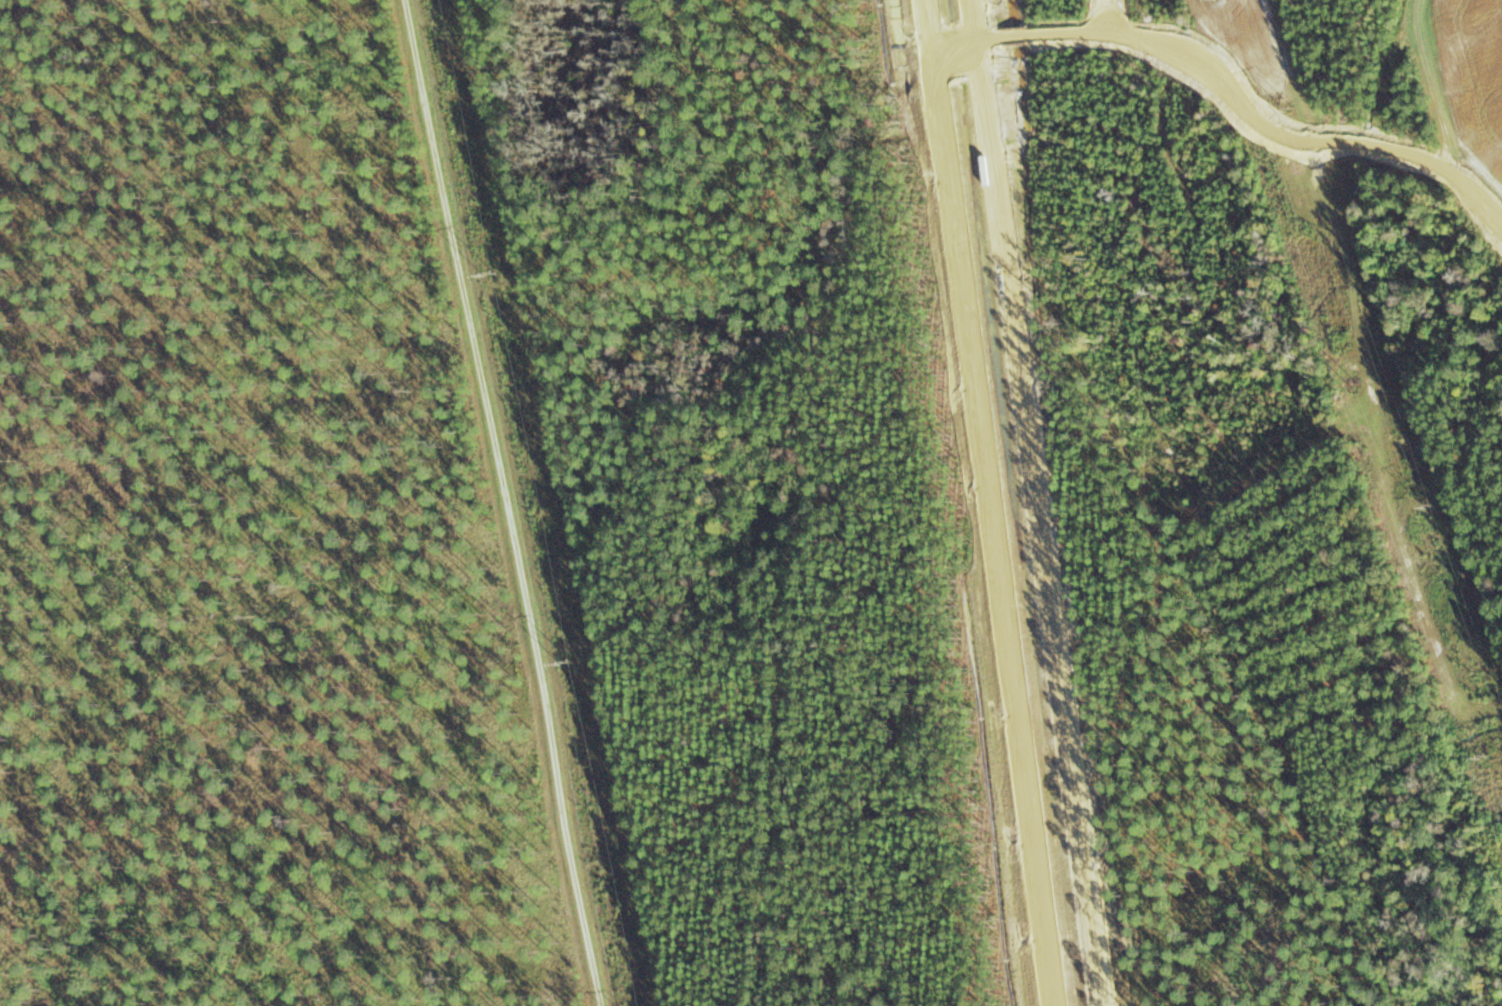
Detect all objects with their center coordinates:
power tower: (1291, 110)
power tower: (491, 273)
power tower: (1354, 386)
power tower: (1431, 508)
power tower: (567, 663)
power tower: (1484, 755)

